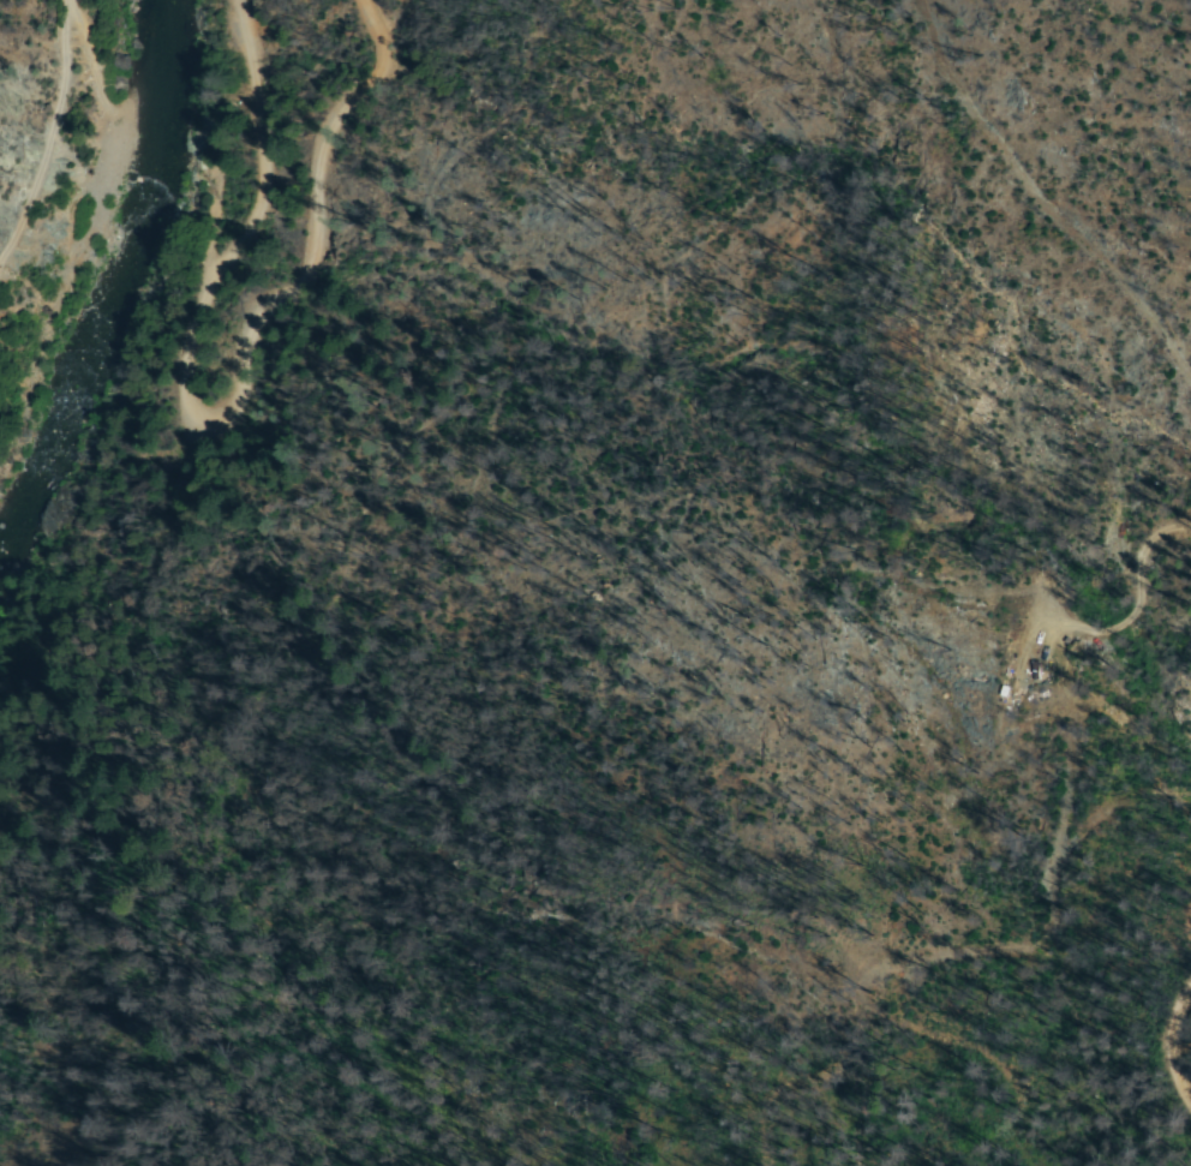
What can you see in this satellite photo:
road: (2, 24)
river: (109, 287)
road: (214, 400)
road: (1175, 1053)

